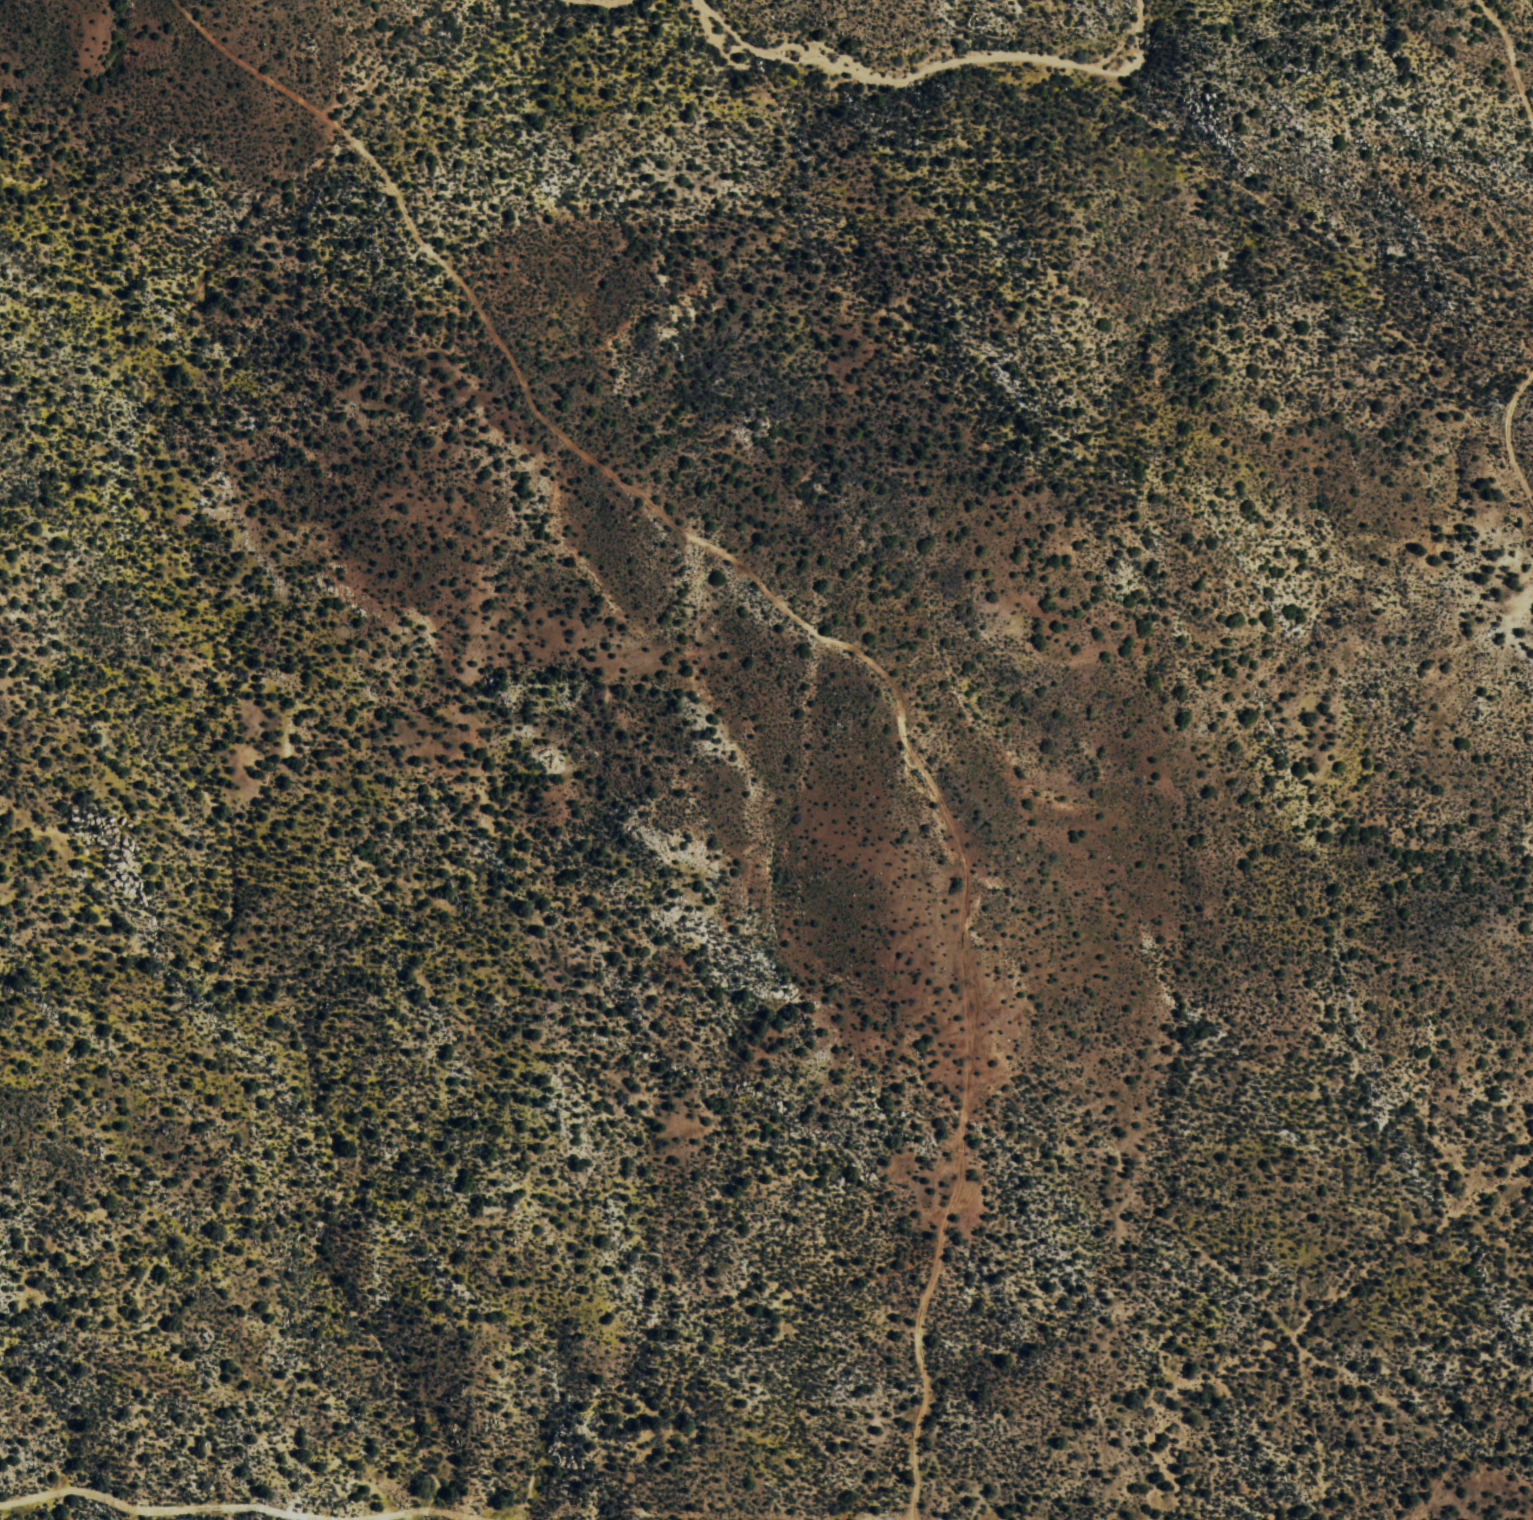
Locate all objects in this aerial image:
road: (923, 1257)

